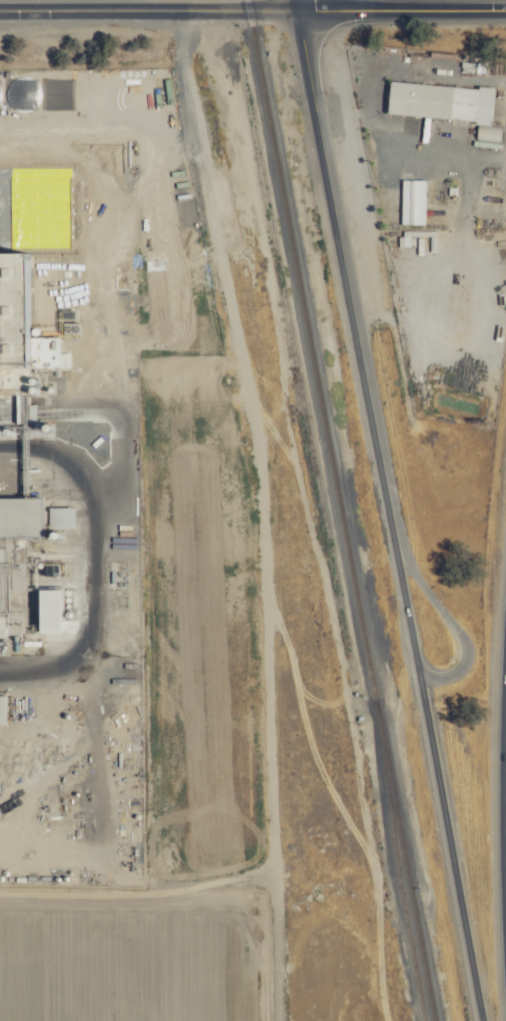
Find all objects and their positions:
road: (296, 5)
road: (148, 11)
road: (401, 11)
building: (445, 104)
building: (413, 201)
road: (344, 268)
building: (54, 282)
railway: (292, 353)
building: (53, 356)
railway: (339, 510)
building: (58, 519)
building: (26, 525)
road: (402, 593)
building: (49, 612)
road: (445, 619)
building: (1, 700)
road: (504, 803)
road: (448, 840)
railway: (398, 880)

